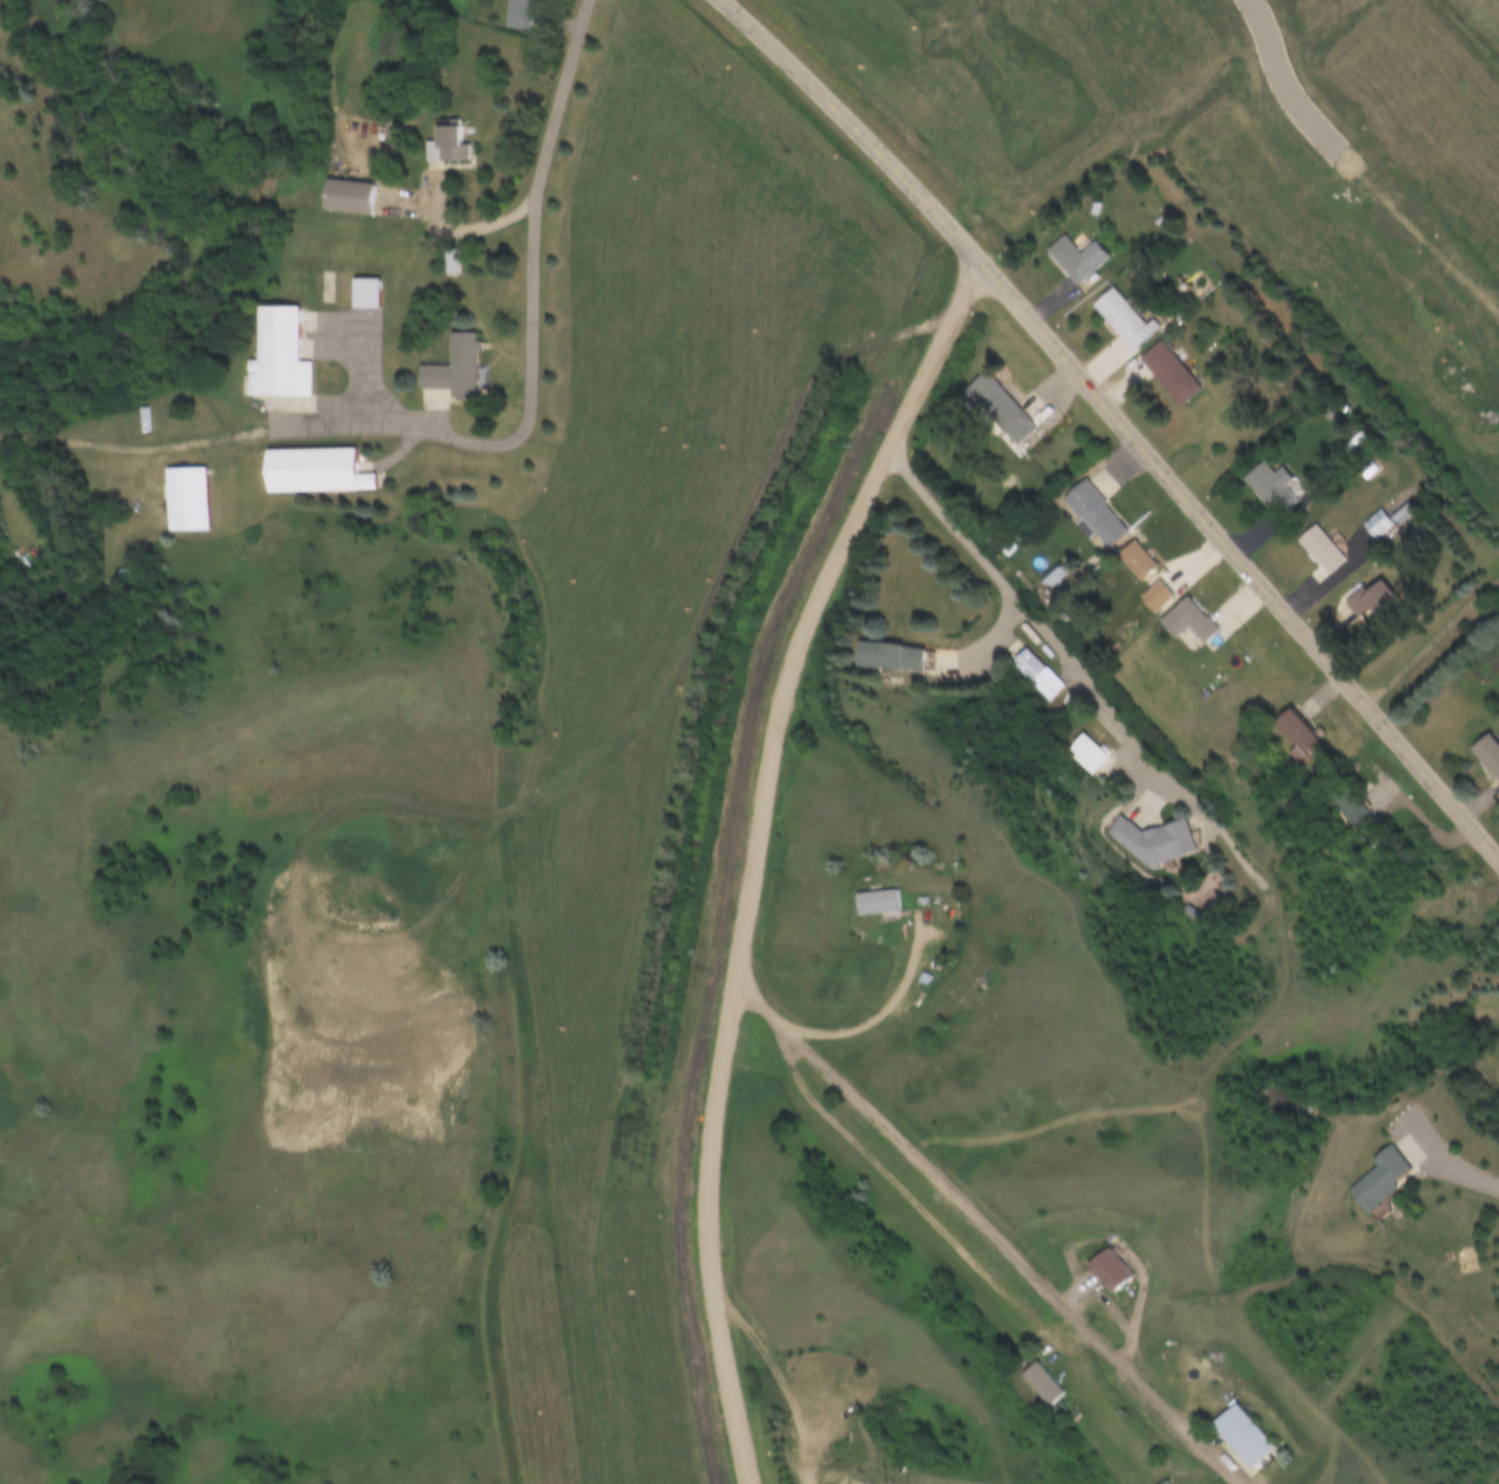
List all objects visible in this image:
building: (528, 14)
road: (1269, 77)
road: (855, 127)
building: (462, 143)
road: (537, 179)
building: (357, 196)
building: (1073, 258)
building: (459, 262)
building: (374, 293)
building: (1121, 319)
building: (284, 356)
building: (463, 370)
building: (1166, 372)
building: (1008, 420)
road: (376, 422)
building: (319, 471)
building: (1265, 484)
building: (186, 500)
building: (1397, 509)
building: (1093, 513)
building: (1376, 525)
building: (1319, 549)
building: (1134, 560)
road: (1240, 560)
building: (1054, 576)
building: (1156, 596)
building: (1374, 600)
building: (1186, 620)
building: (893, 656)
building: (1035, 674)
building: (1294, 735)
building: (1080, 753)
building: (1488, 754)
road: (1164, 793)
building: (1346, 805)
building: (1150, 841)
road: (756, 854)
building: (891, 902)
road: (857, 1012)
building: (1379, 1179)
road: (1013, 1247)
building: (1115, 1268)
building: (803, 1372)
building: (1245, 1435)
building: (1161, 1481)

